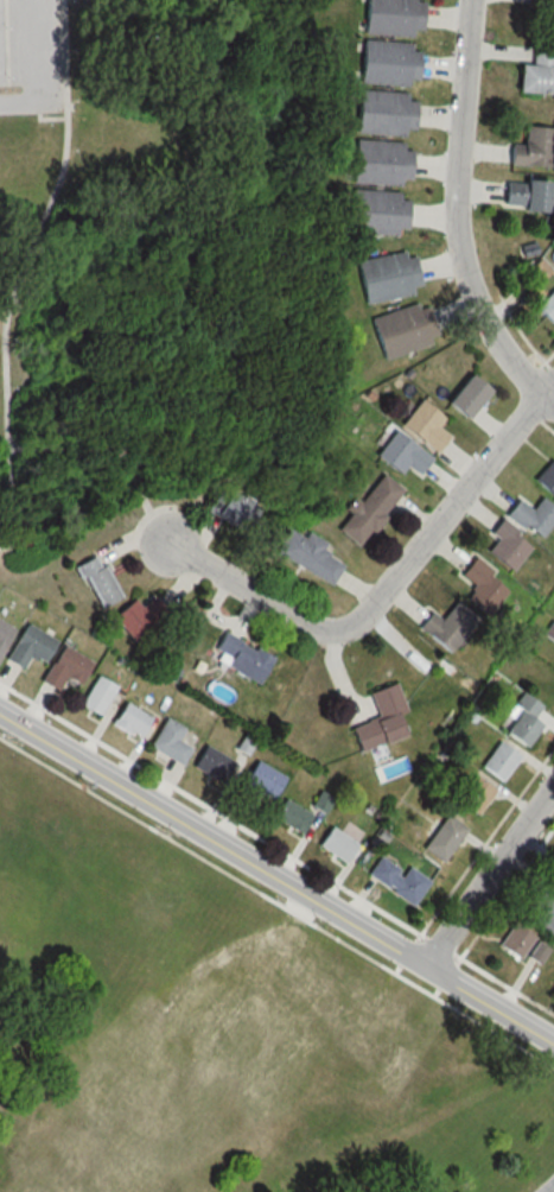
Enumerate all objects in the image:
building: (389, 17)
parking lot: (30, 57)
building: (386, 62)
building: (536, 70)
road: (39, 72)
building: (381, 112)
road: (46, 119)
building: (530, 146)
building: (377, 161)
building: (524, 191)
building: (374, 211)
road: (459, 214)
park: (154, 253)
building: (384, 275)
building: (546, 304)
road: (4, 328)
building: (466, 393)
road: (552, 393)
building: (422, 424)
building: (402, 452)
building: (547, 474)
building: (371, 500)
road: (12, 505)
road: (442, 513)
building: (530, 515)
building: (504, 538)
building: (312, 549)
building: (473, 576)
building: (95, 582)
road: (248, 589)
building: (135, 615)
building: (445, 624)
building: (25, 646)
building: (238, 657)
building: (553, 661)
building: (62, 668)
building: (94, 695)
building: (377, 718)
building: (127, 719)
building: (521, 725)
building: (165, 741)
building: (208, 763)
building: (254, 782)
building: (286, 814)
building: (332, 843)
road: (486, 868)
road: (276, 876)
building: (394, 879)
road: (546, 1185)

